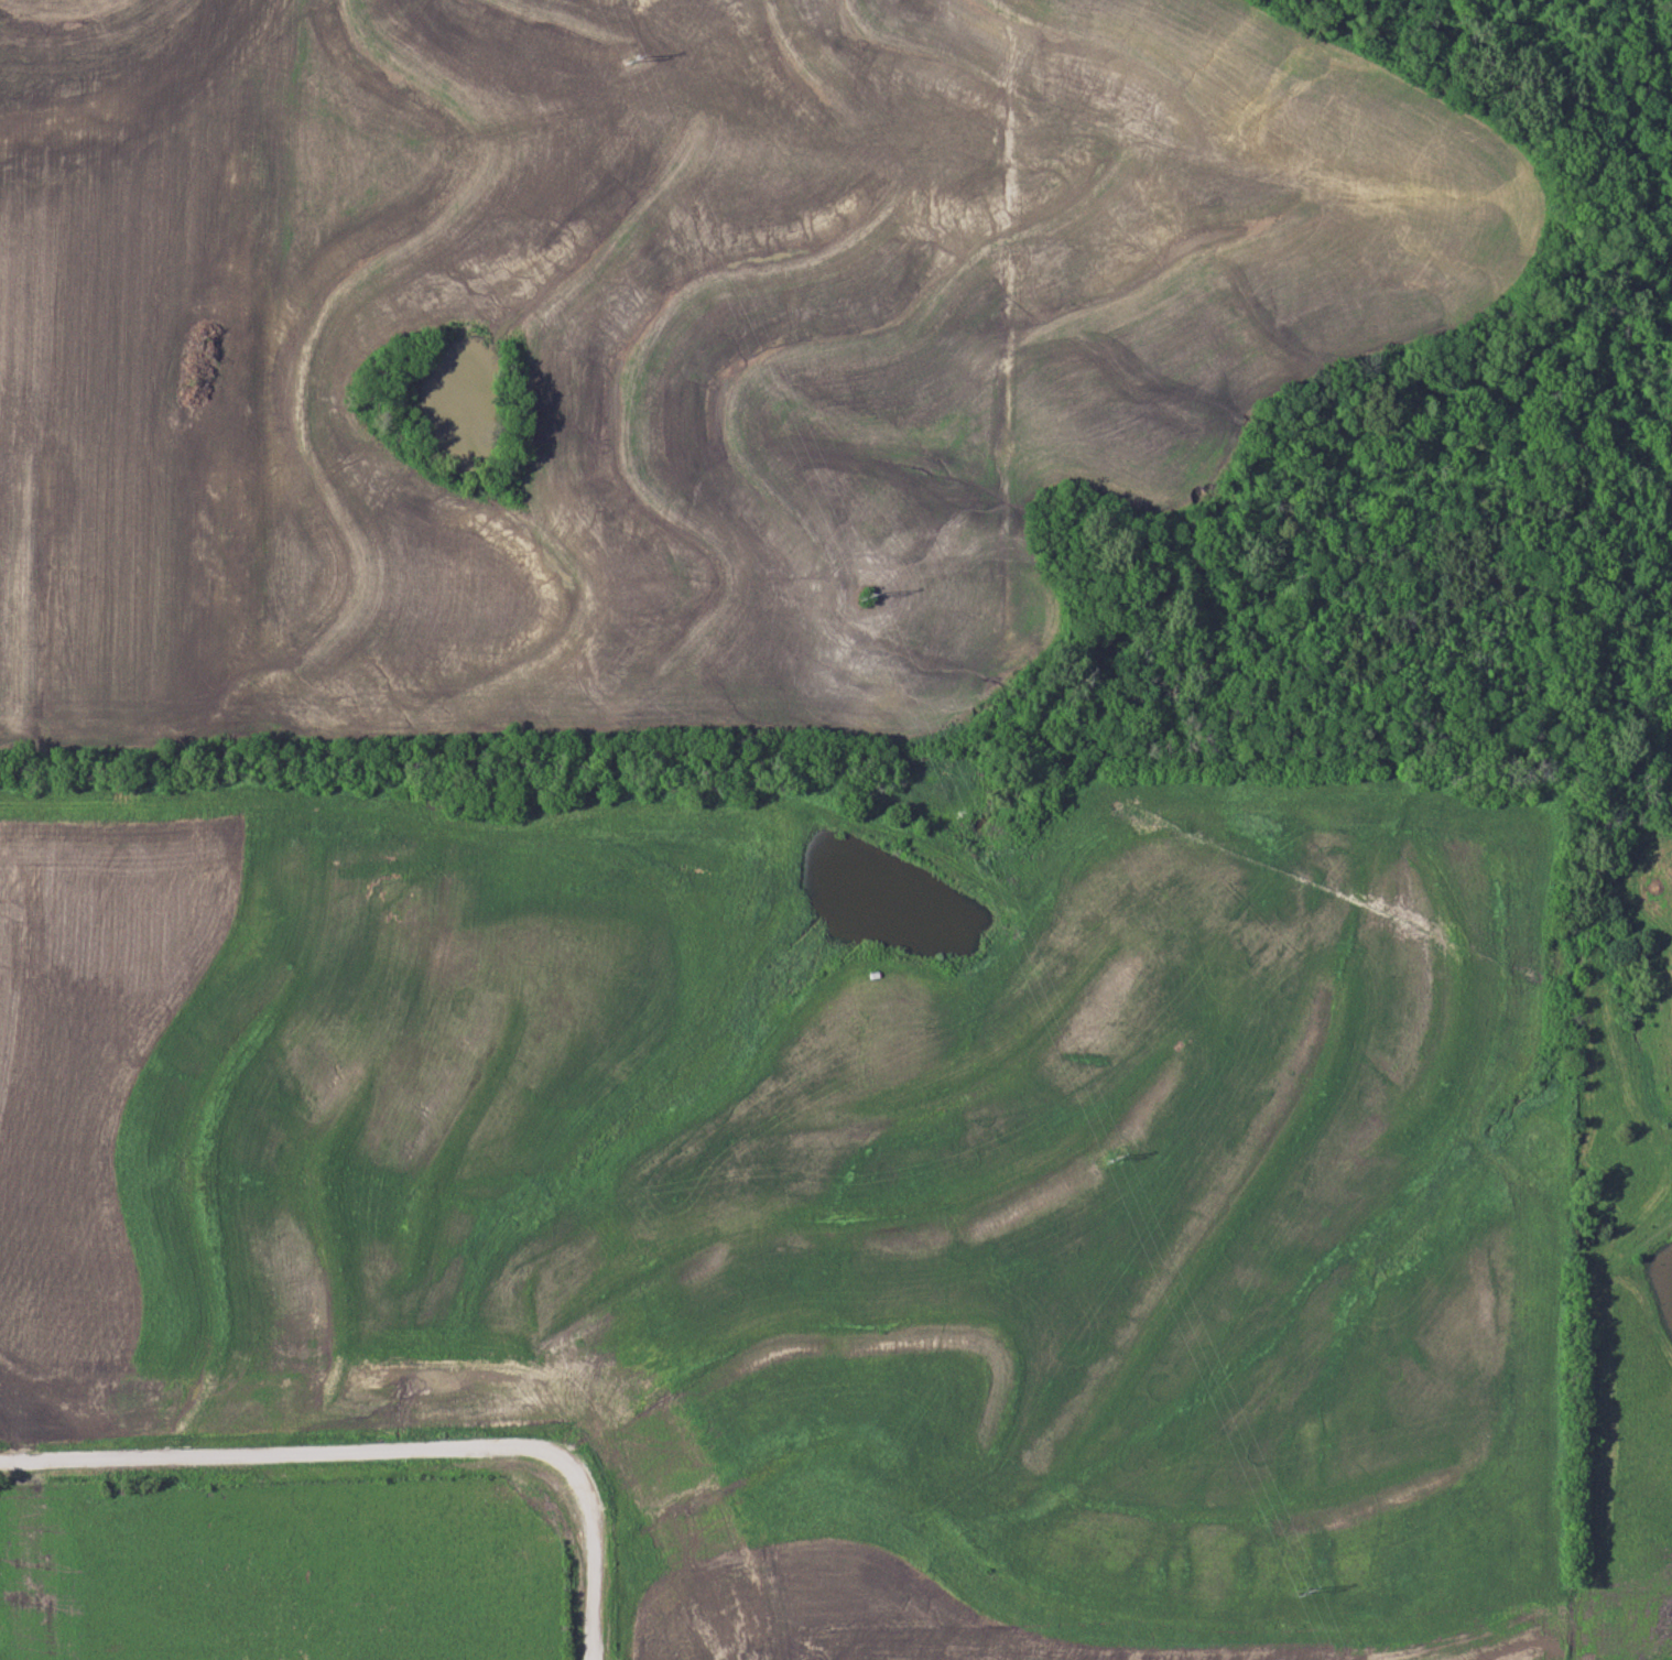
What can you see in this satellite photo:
road: (386, 1452)

